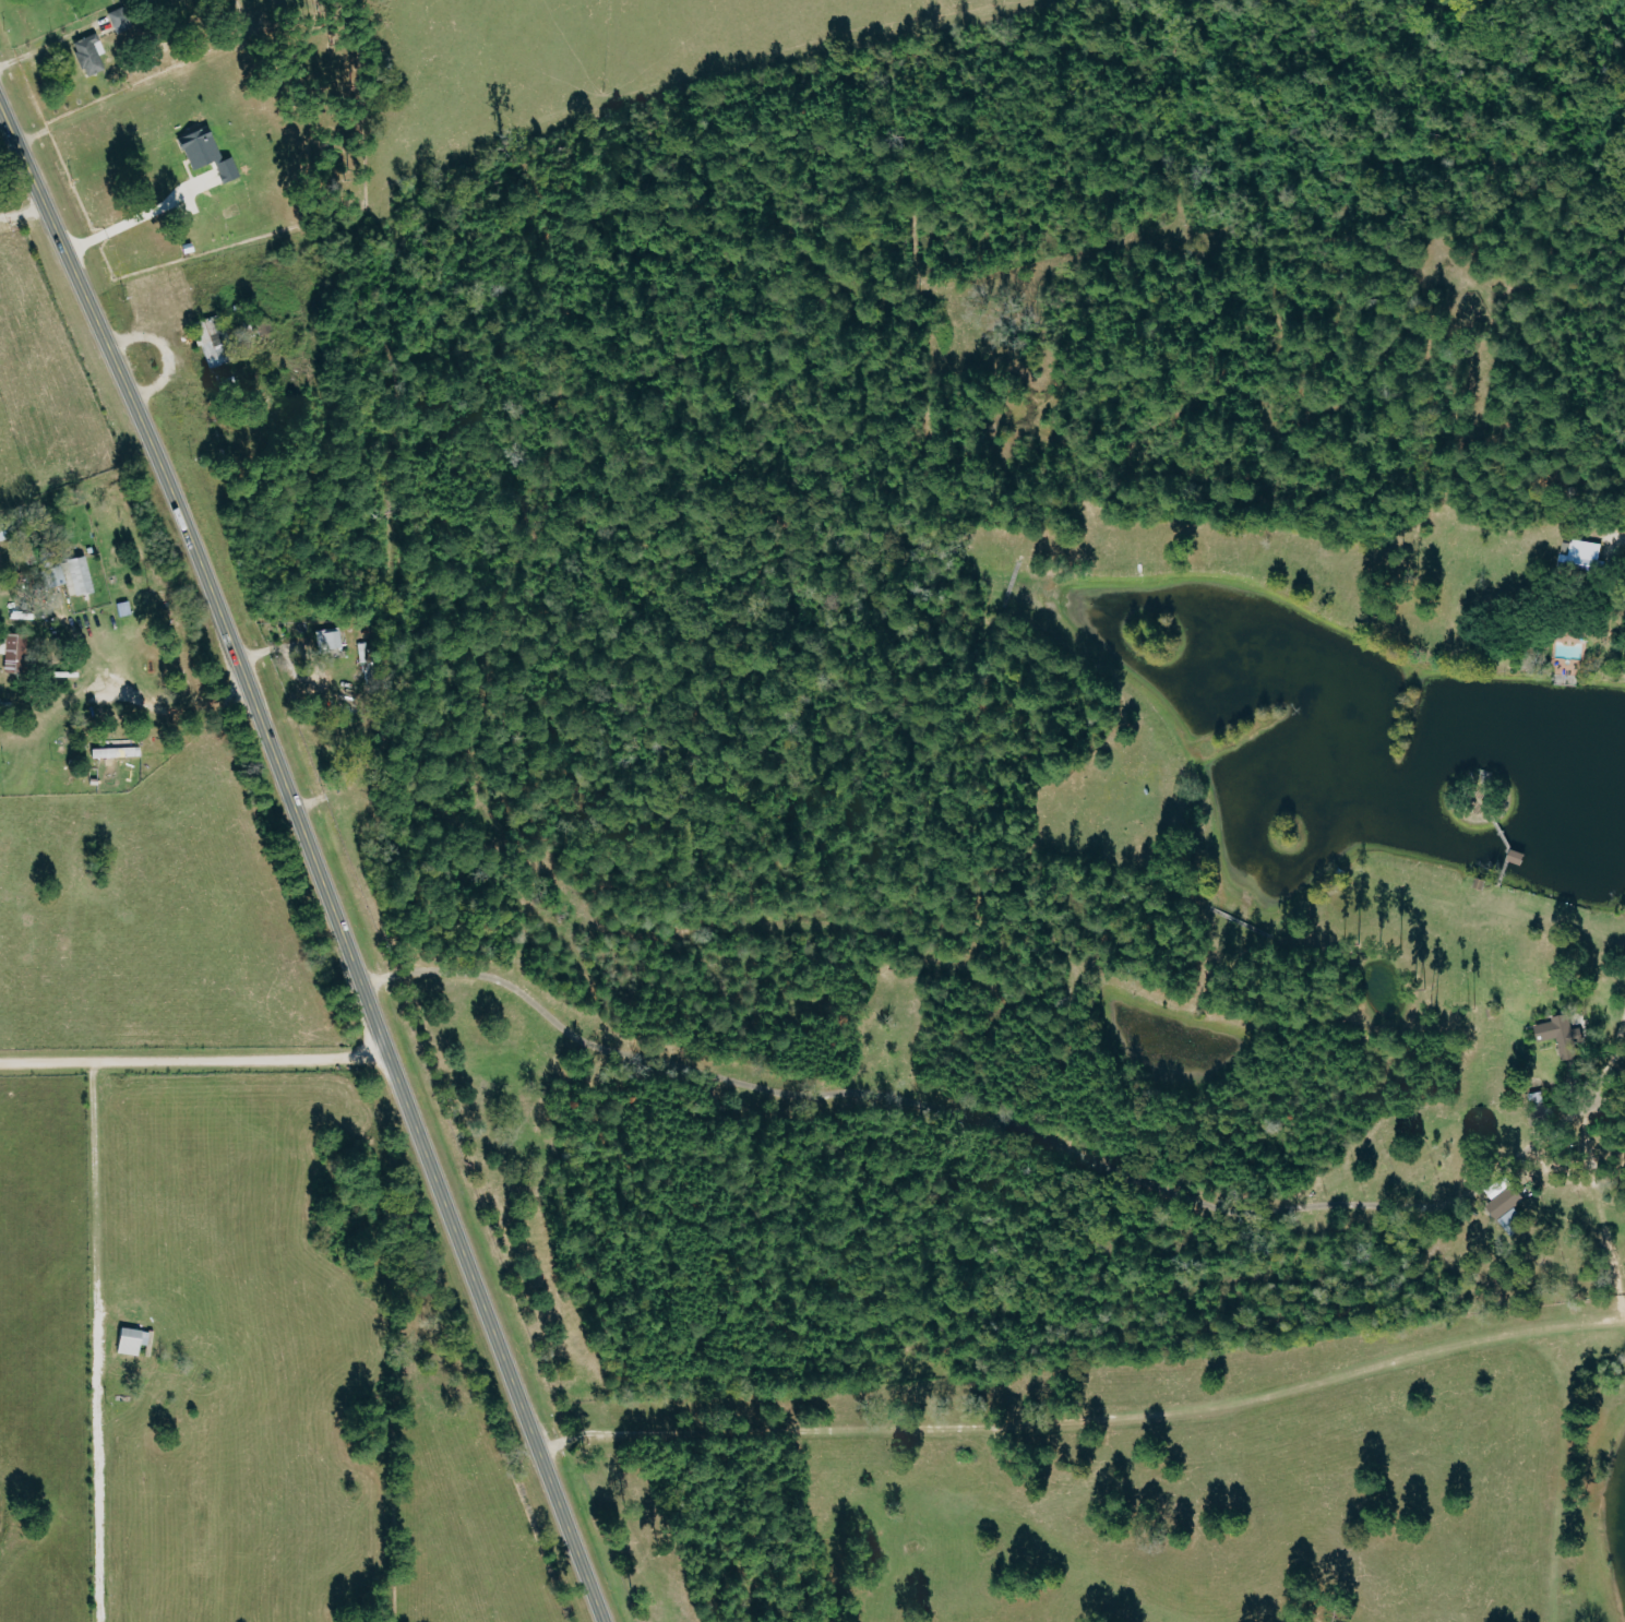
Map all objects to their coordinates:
building: (121, 20)
building: (89, 53)
building: (206, 152)
road: (133, 216)
building: (210, 342)
road: (1622, 537)
building: (1580, 553)
building: (70, 575)
building: (328, 640)
building: (13, 654)
road: (147, 704)
building: (115, 752)
road: (312, 862)
building: (1561, 1036)
road: (192, 1060)
road: (1593, 1164)
building: (1506, 1202)
road: (97, 1340)
building: (131, 1341)
road: (1085, 1420)

